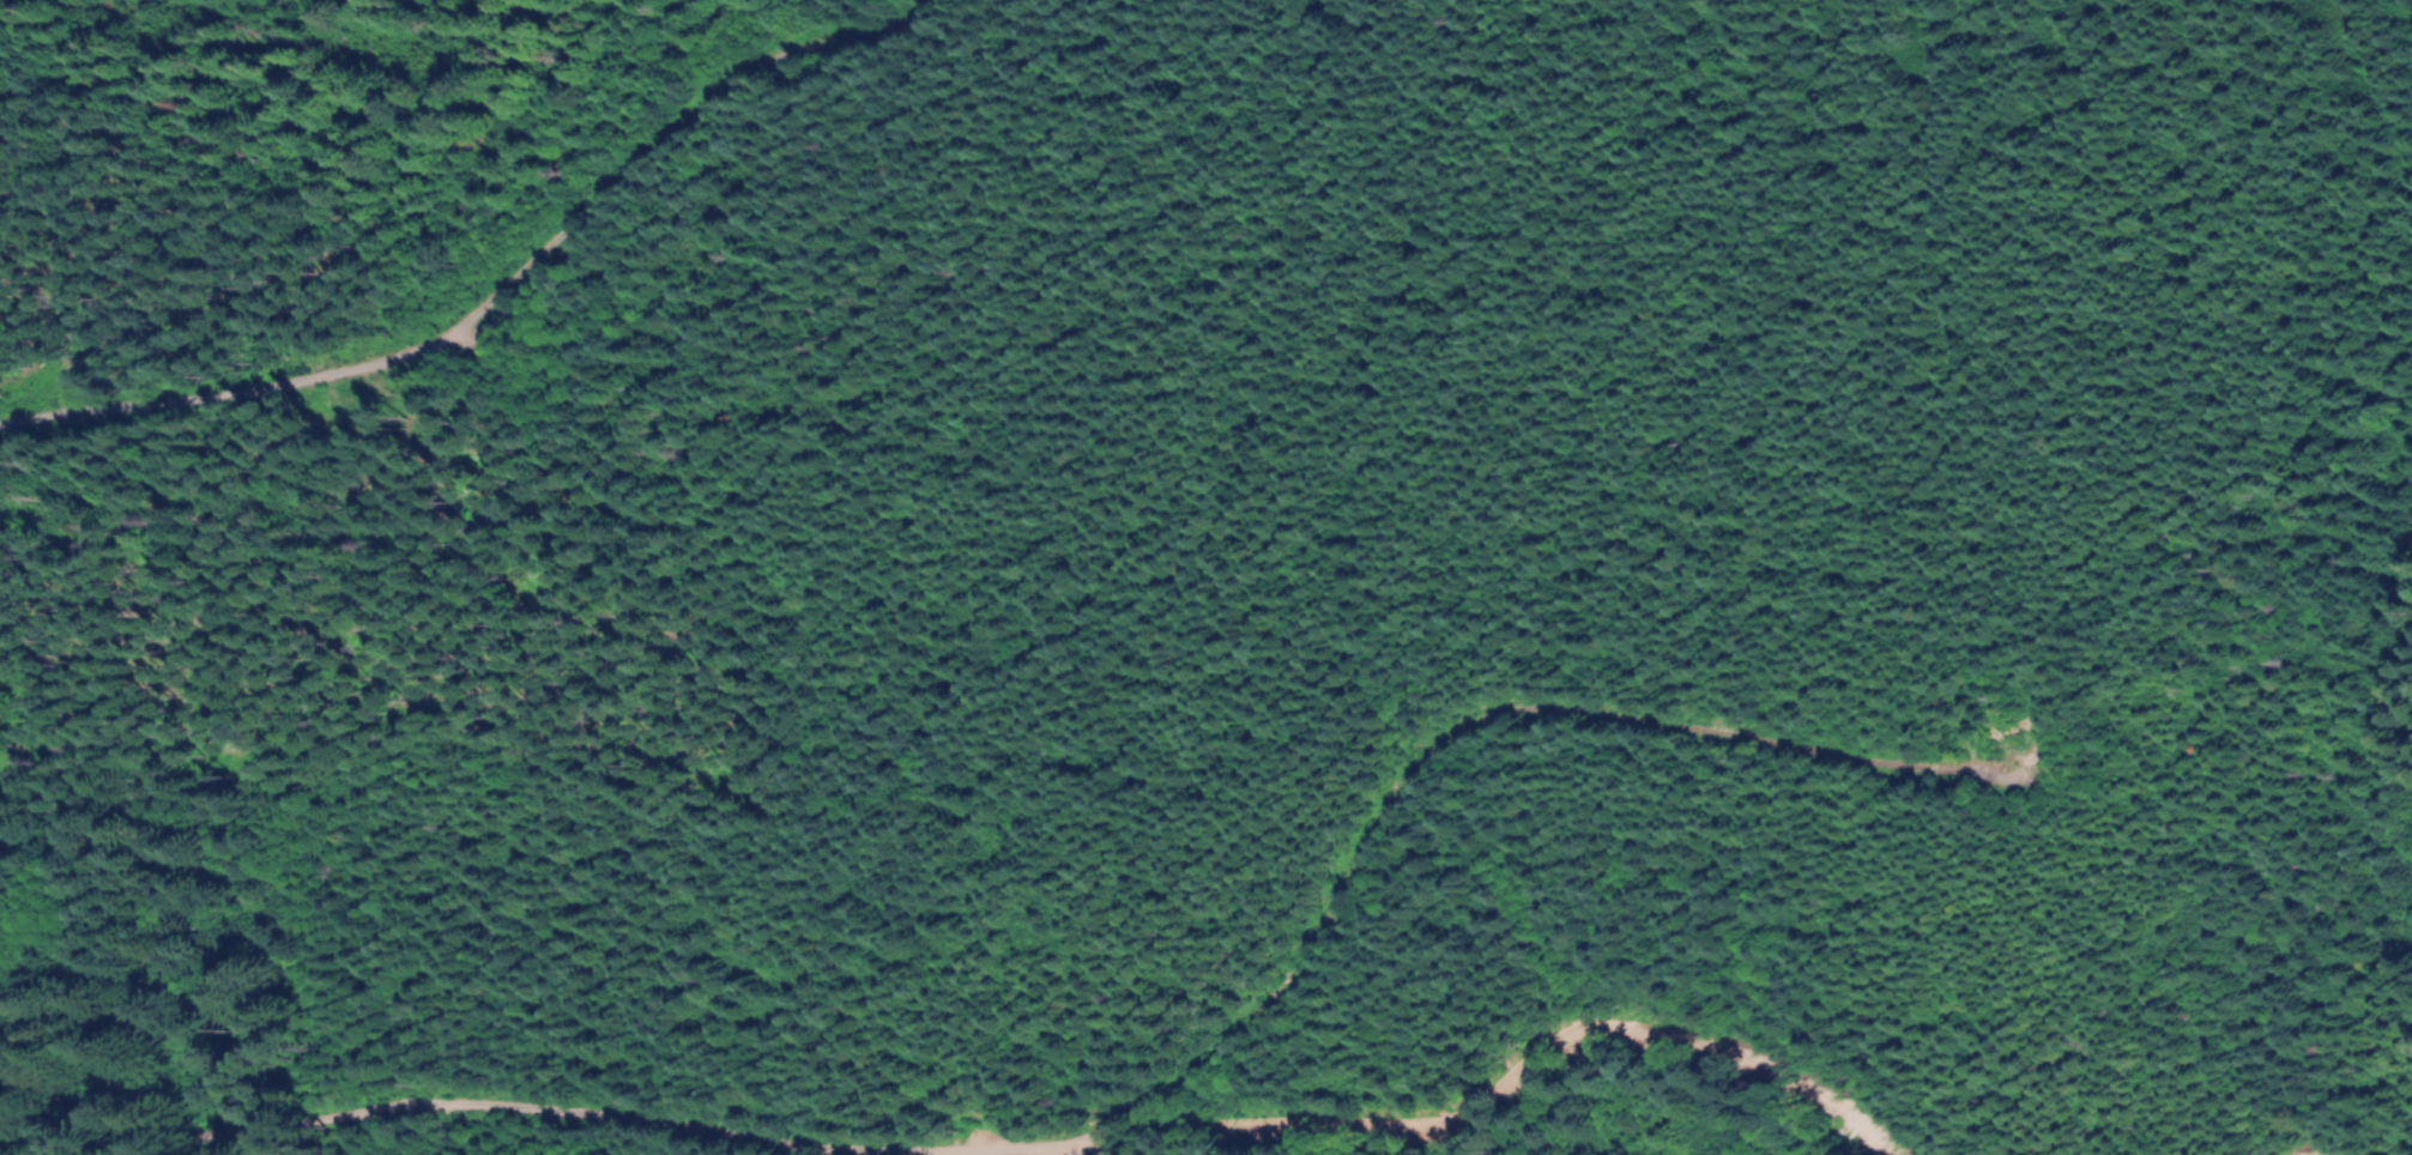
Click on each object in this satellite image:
road: (476, 309)
road: (1457, 731)
road: (1503, 1070)
road: (591, 1118)
parking lot: (1072, 1143)
road: (974, 1151)

